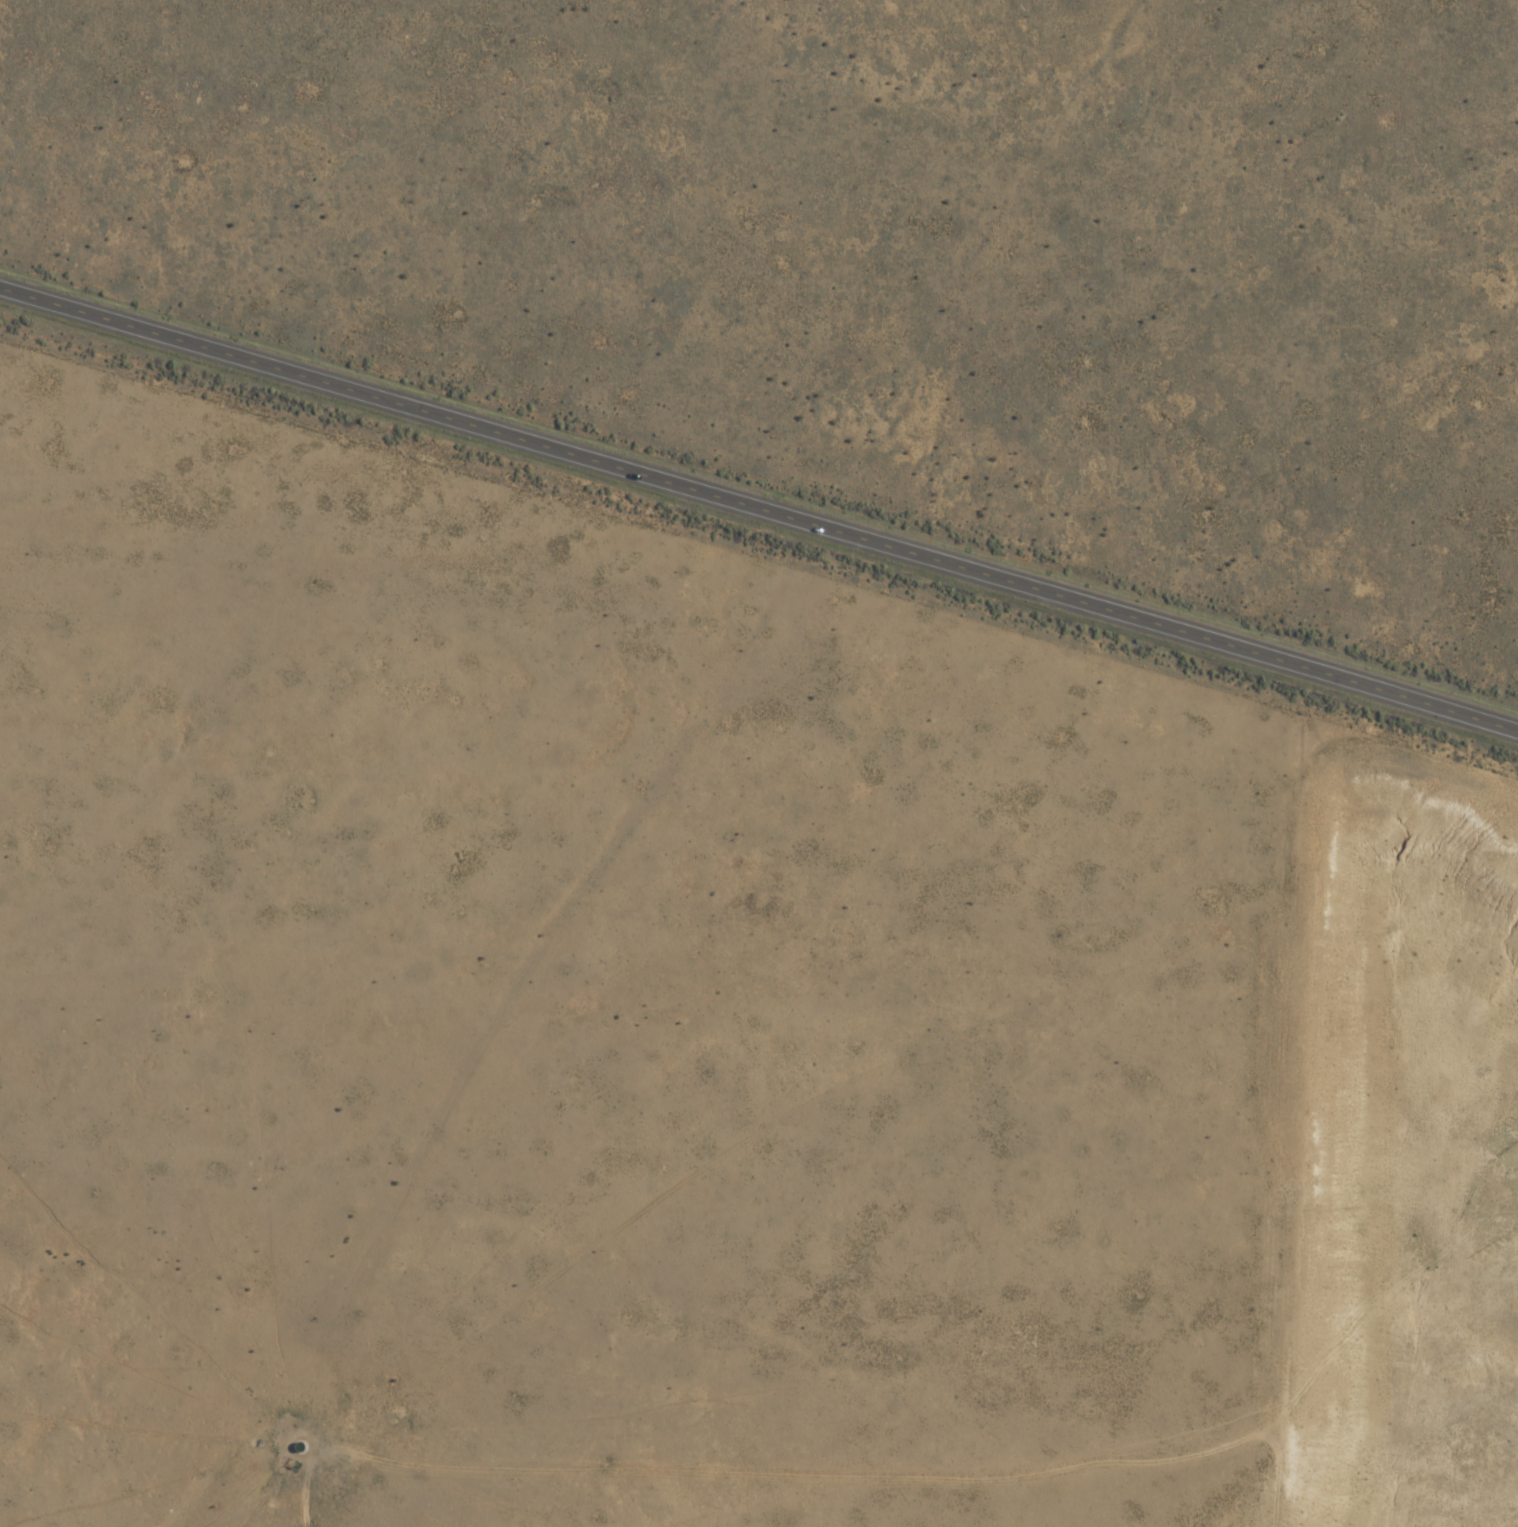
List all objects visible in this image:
road: (759, 507)

